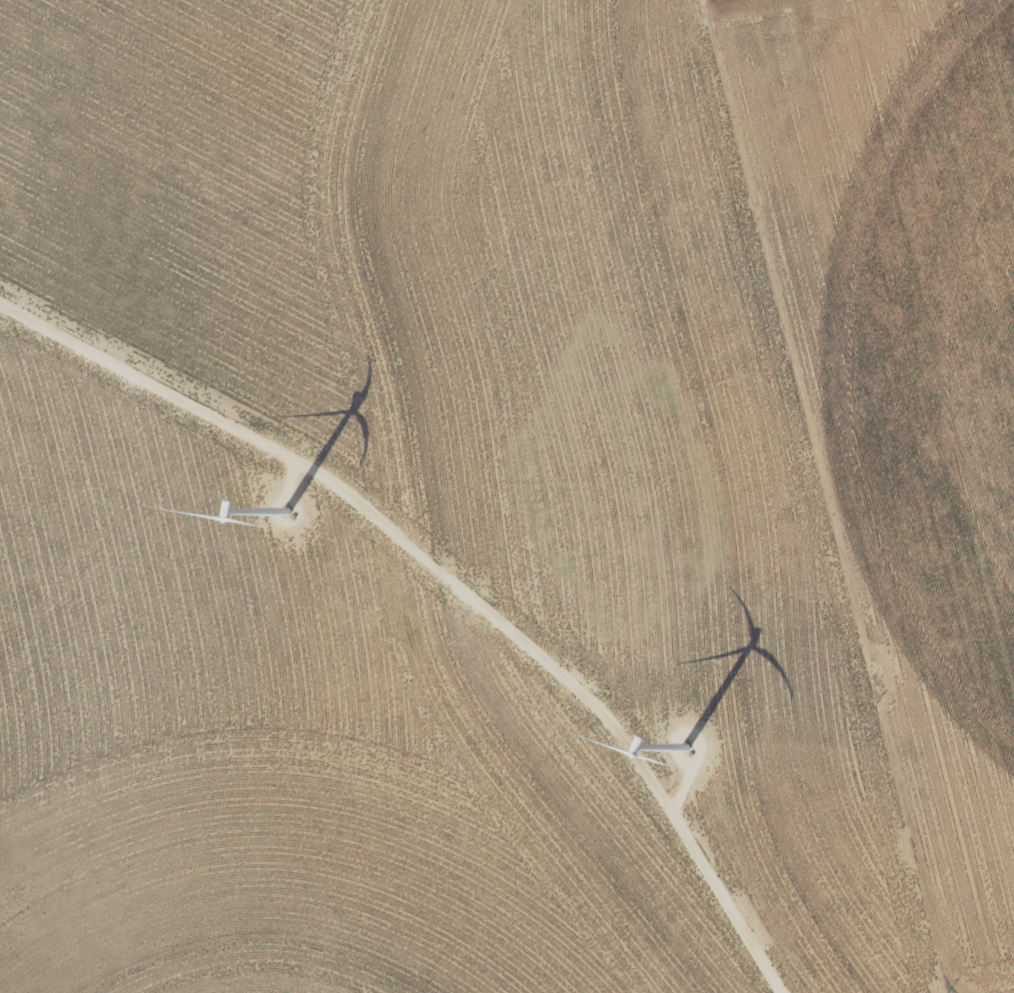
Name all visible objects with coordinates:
wind turbine: (280, 510)
wind turbine: (691, 738)

